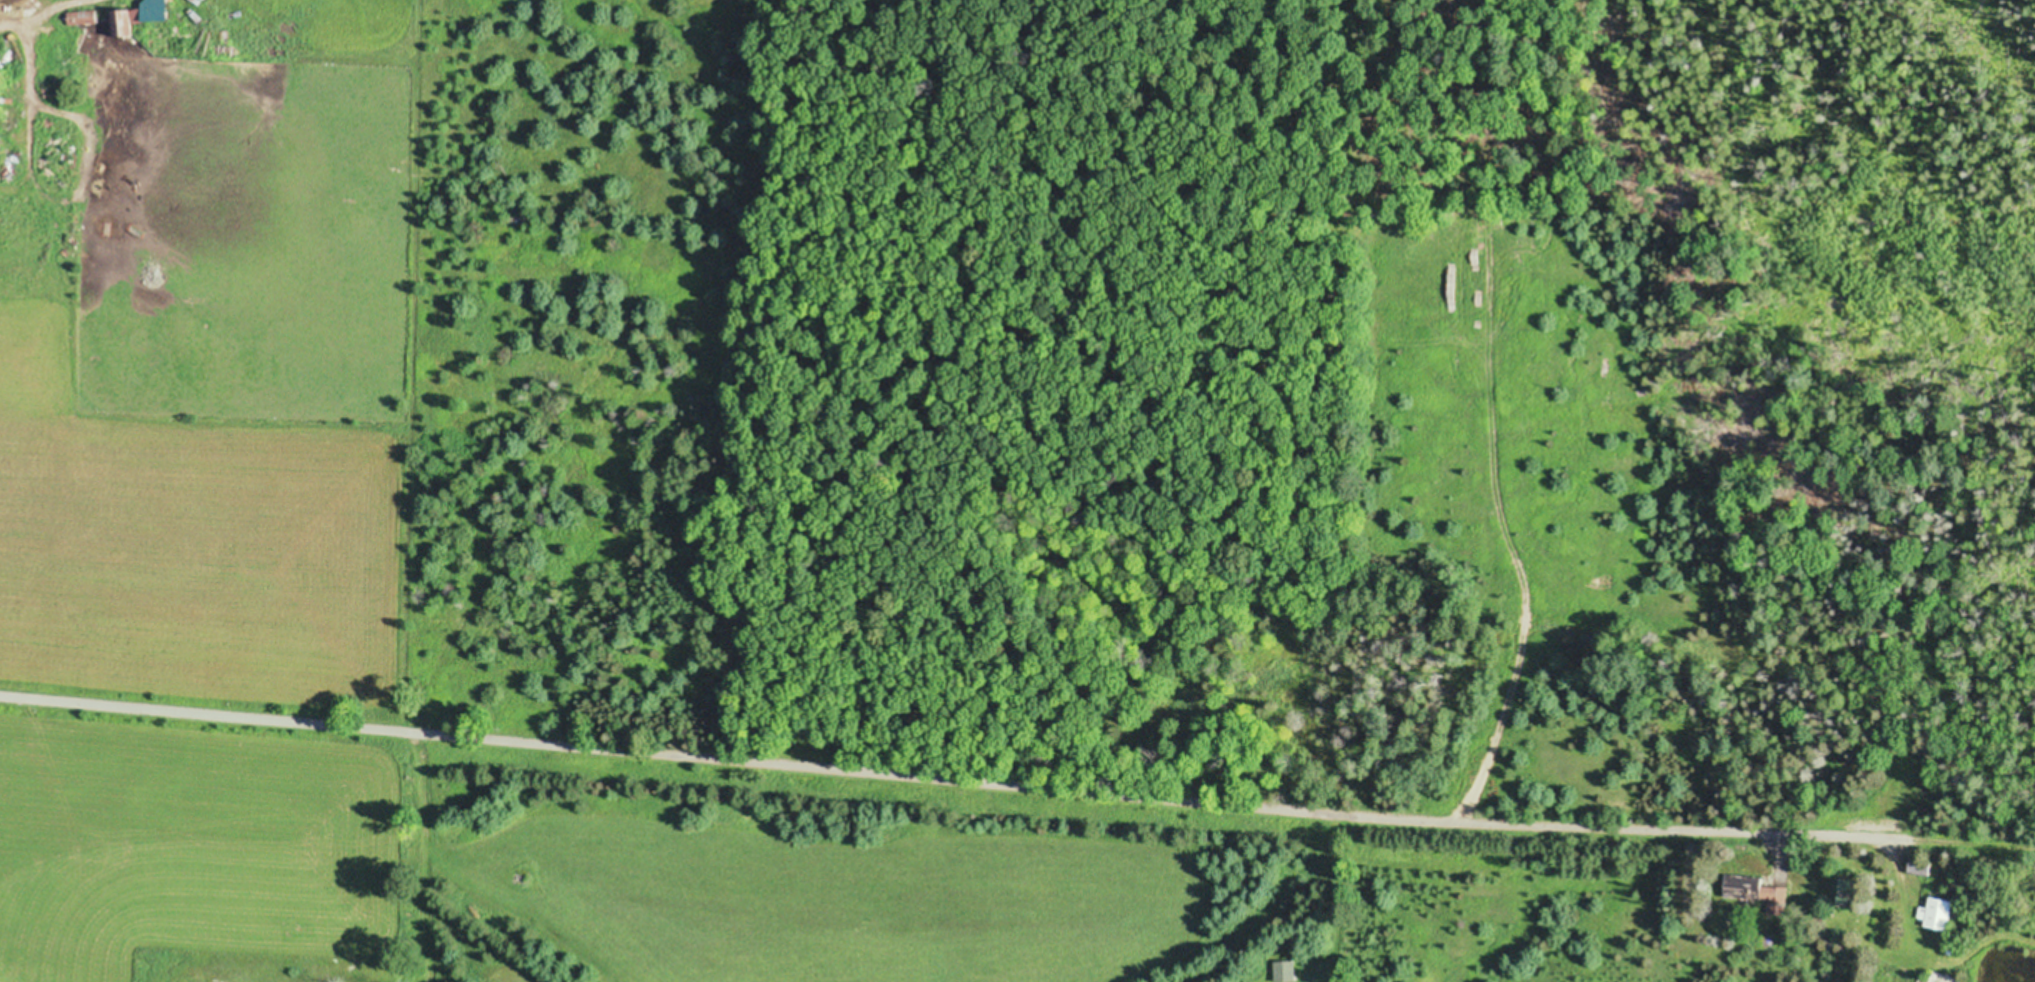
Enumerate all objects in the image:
road: (944, 781)

